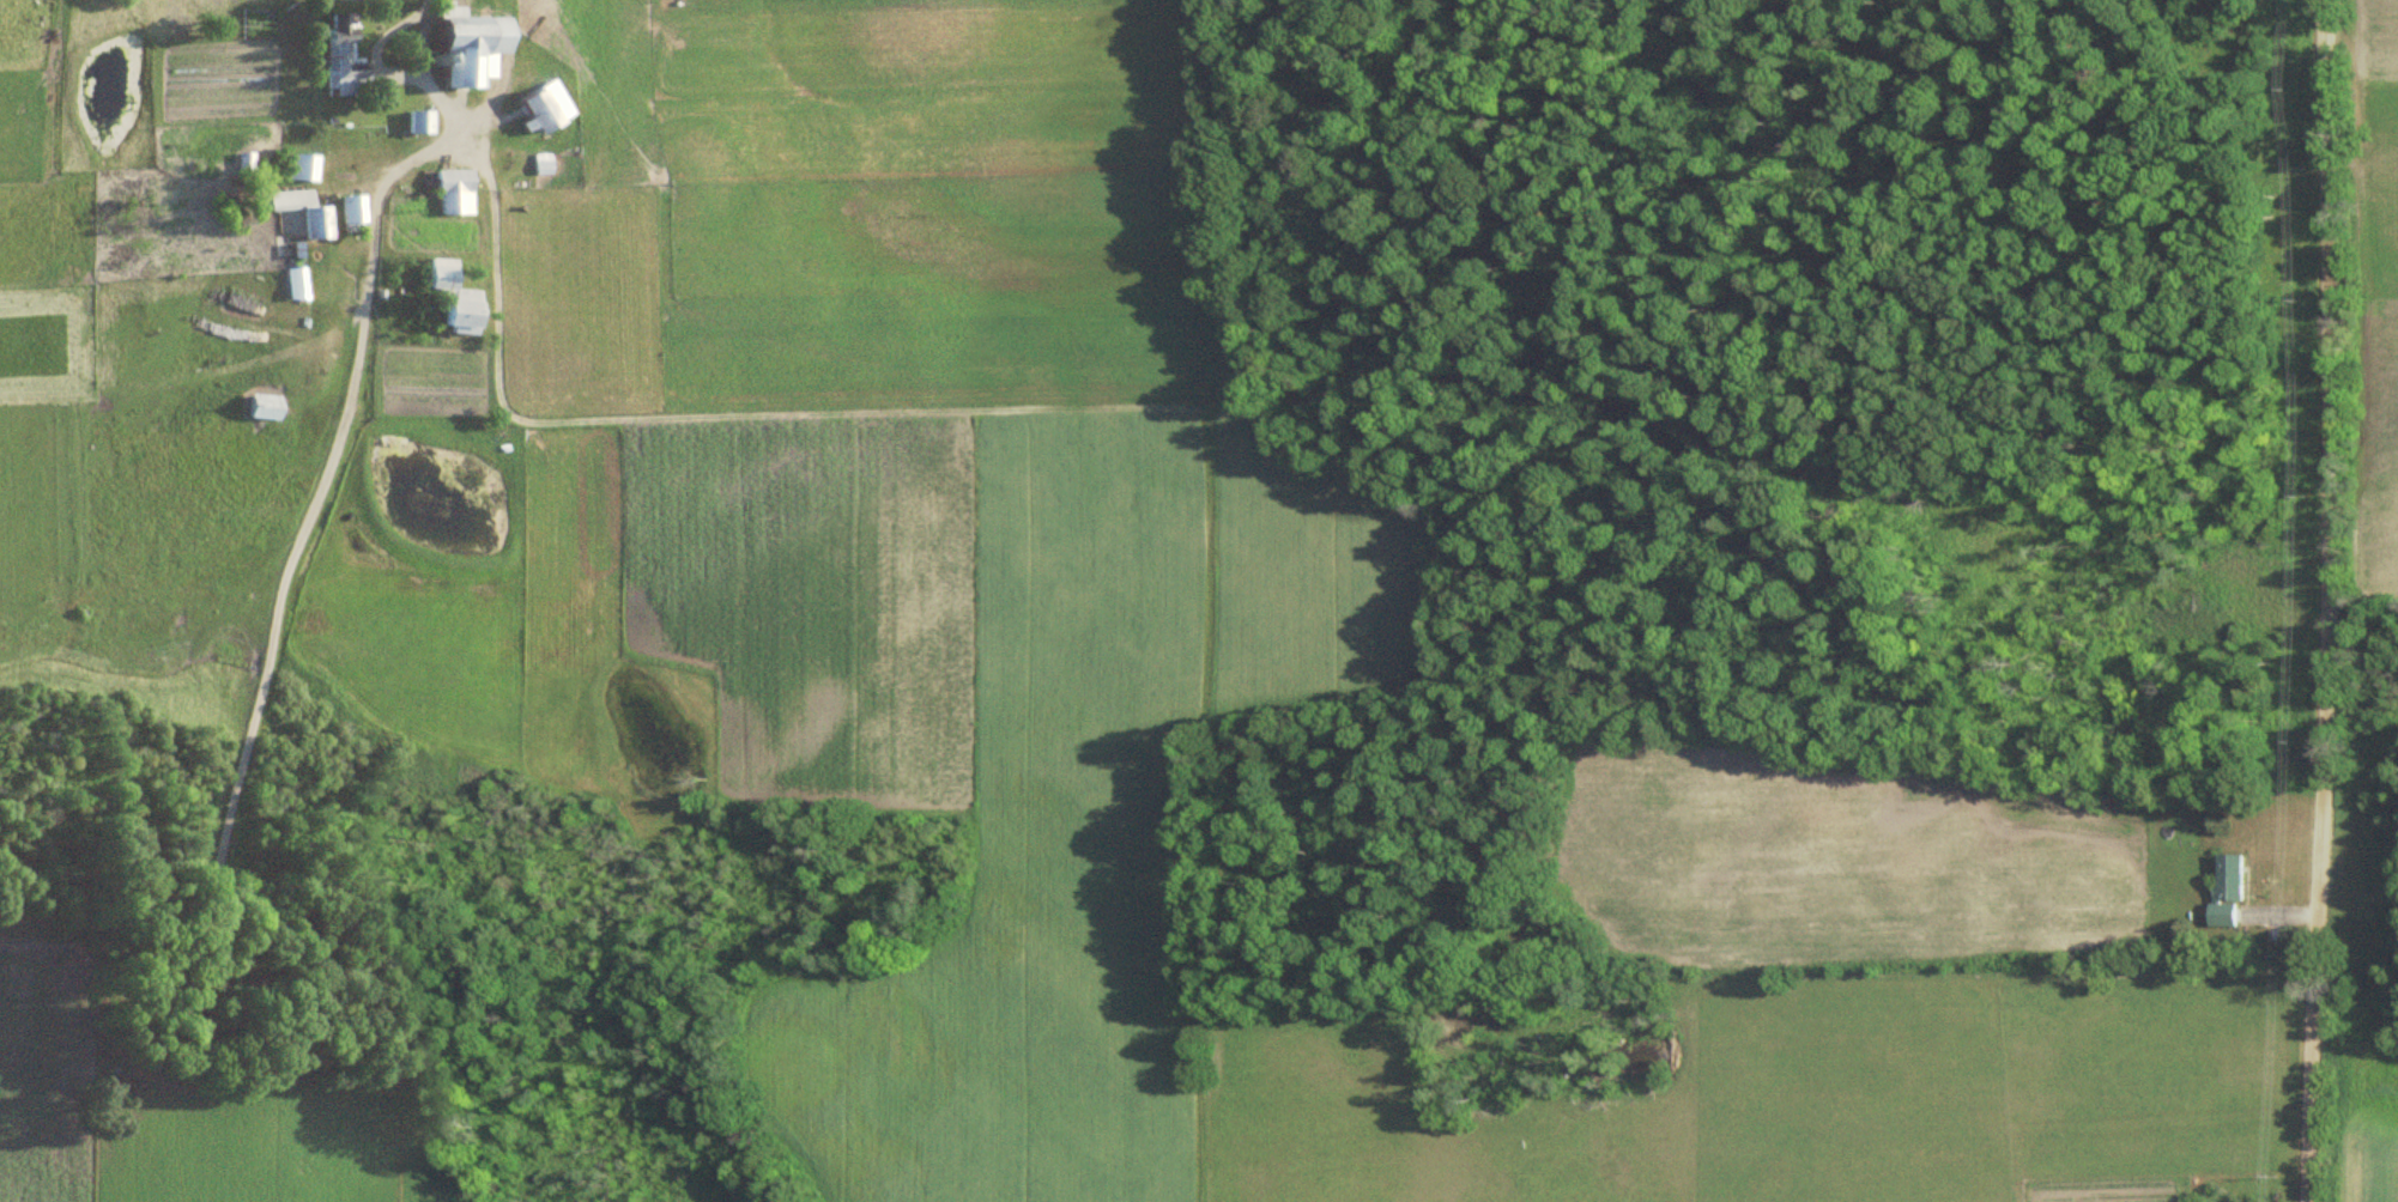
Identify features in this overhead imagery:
building: (474, 49)
building: (343, 60)
building: (541, 113)
building: (423, 122)
building: (302, 168)
building: (456, 192)
building: (353, 210)
building: (317, 225)
building: (456, 299)
building: (266, 407)
road: (2311, 601)
building: (2234, 893)

